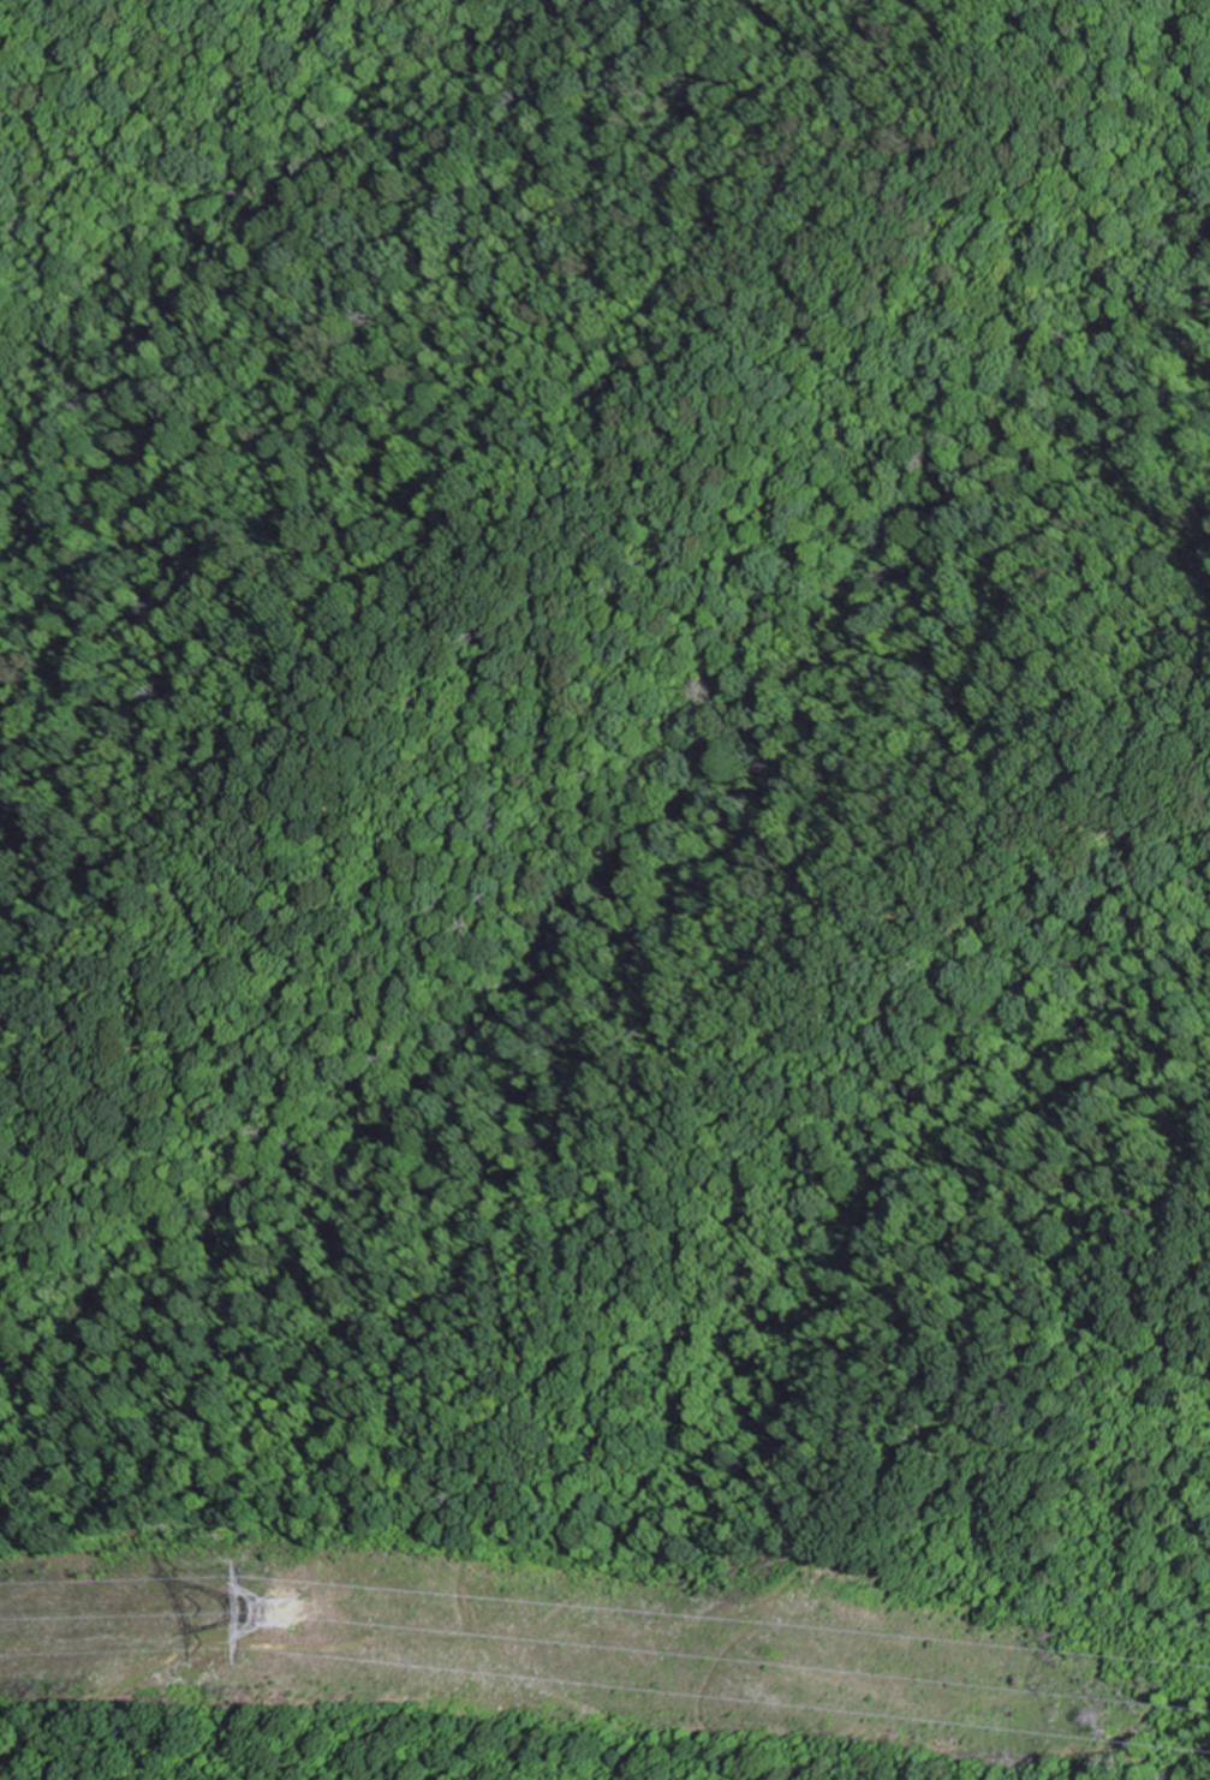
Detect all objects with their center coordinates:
power tower: (252, 1612)

